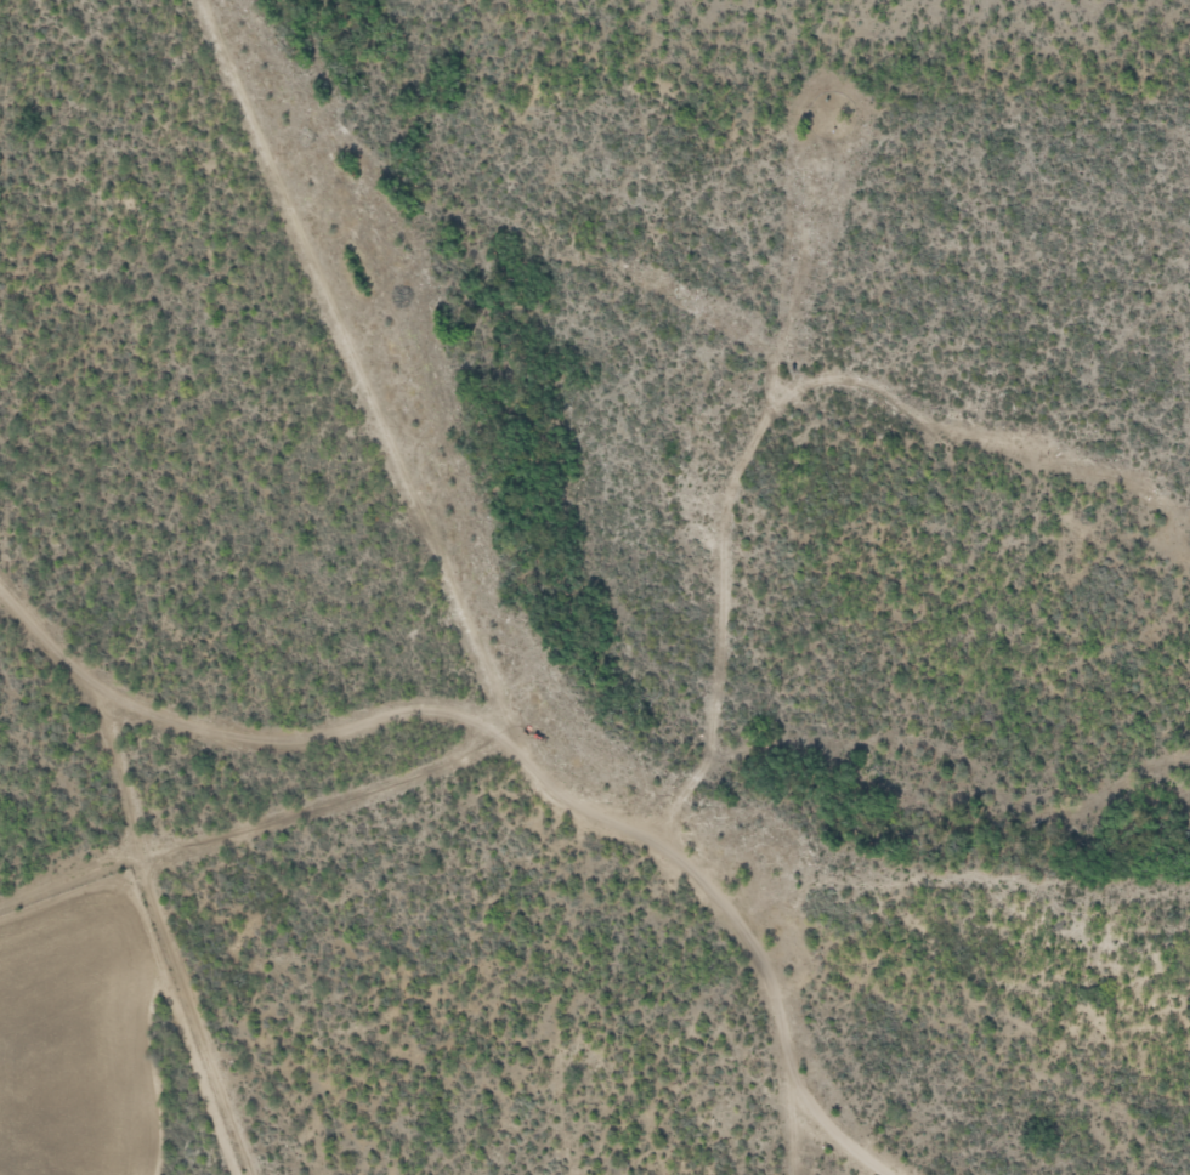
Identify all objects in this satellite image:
road: (548, 765)

